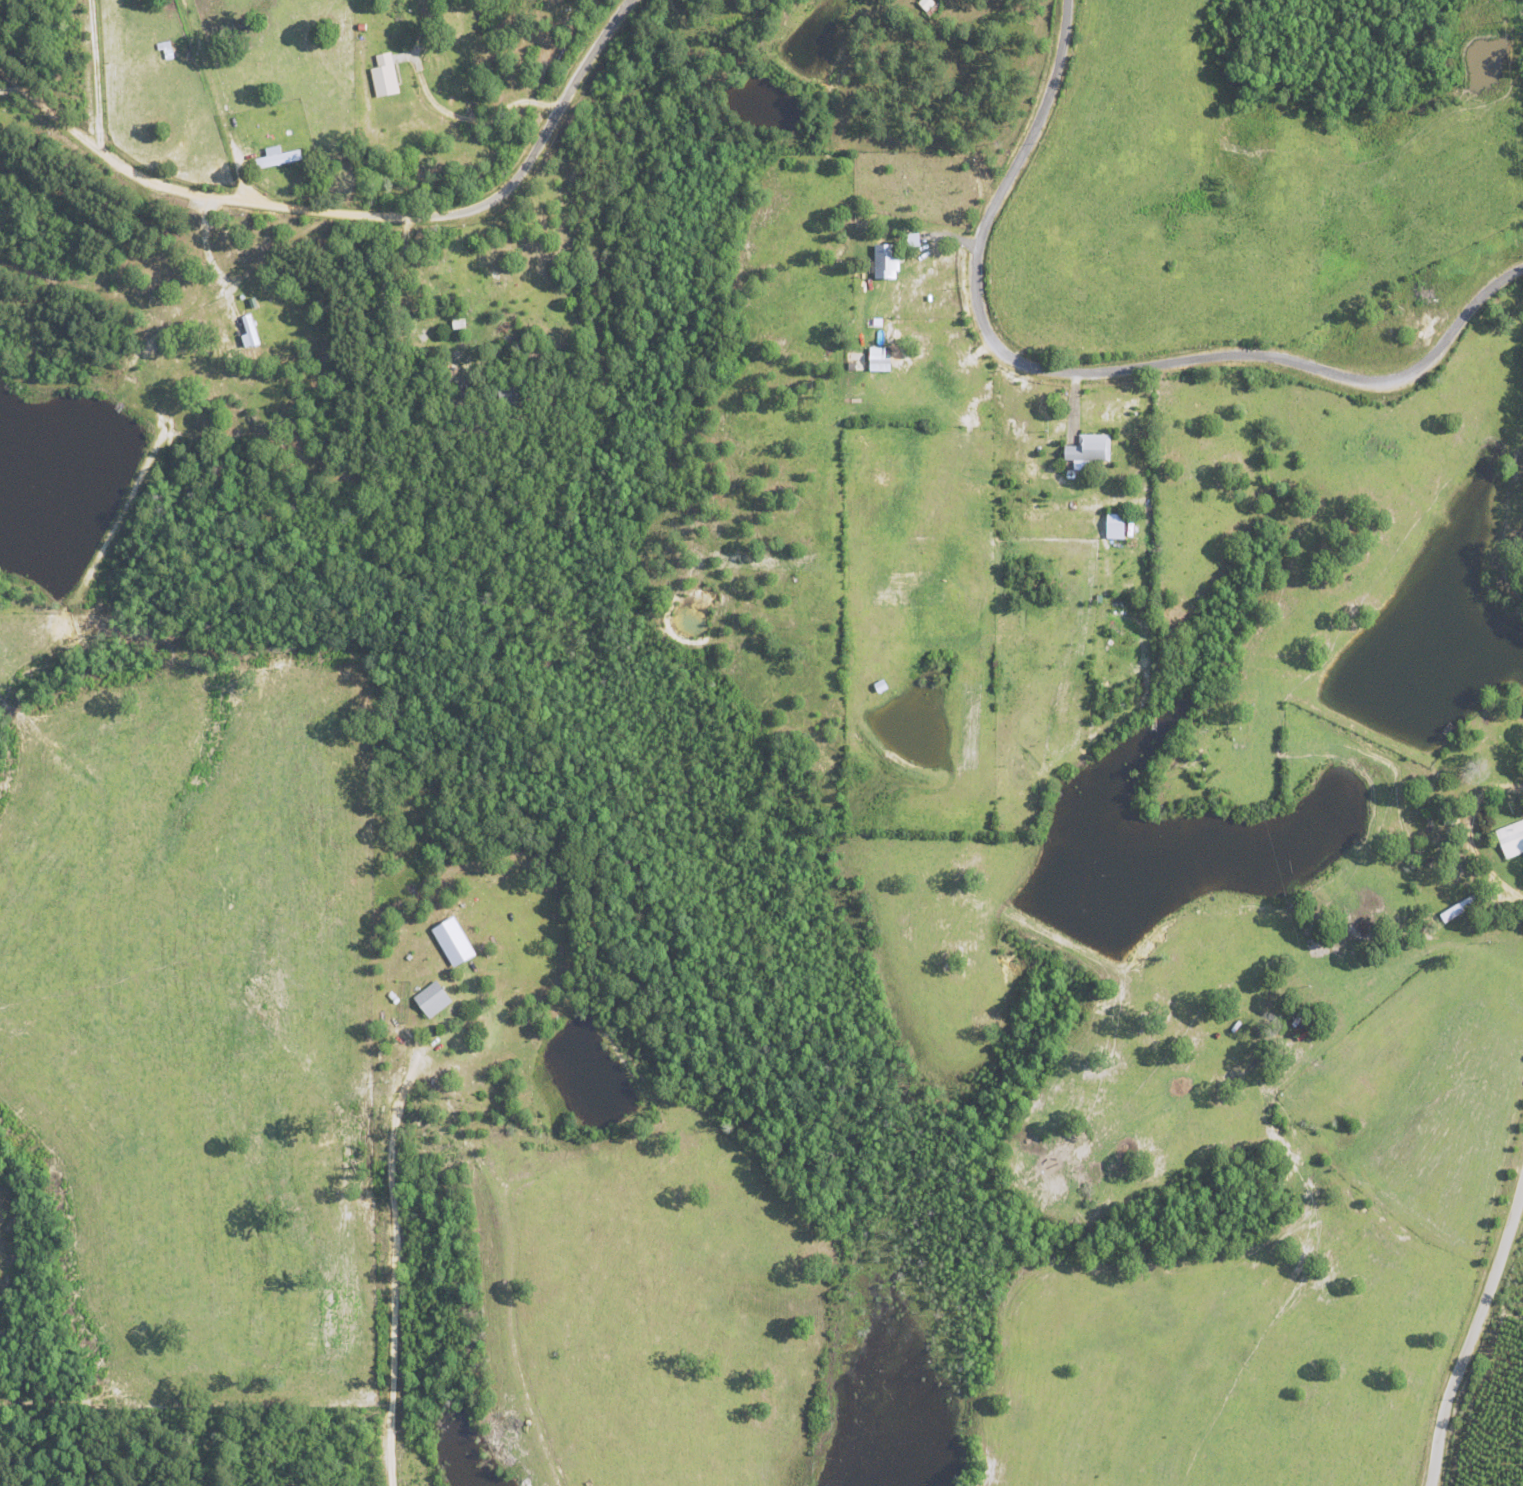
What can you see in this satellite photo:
building: (383, 75)
building: (275, 157)
road: (352, 214)
building: (883, 262)
building: (248, 332)
road: (1096, 373)
building: (1086, 449)
building: (1113, 525)
building: (1510, 838)
building: (450, 941)
building: (430, 999)
road: (1473, 1327)

